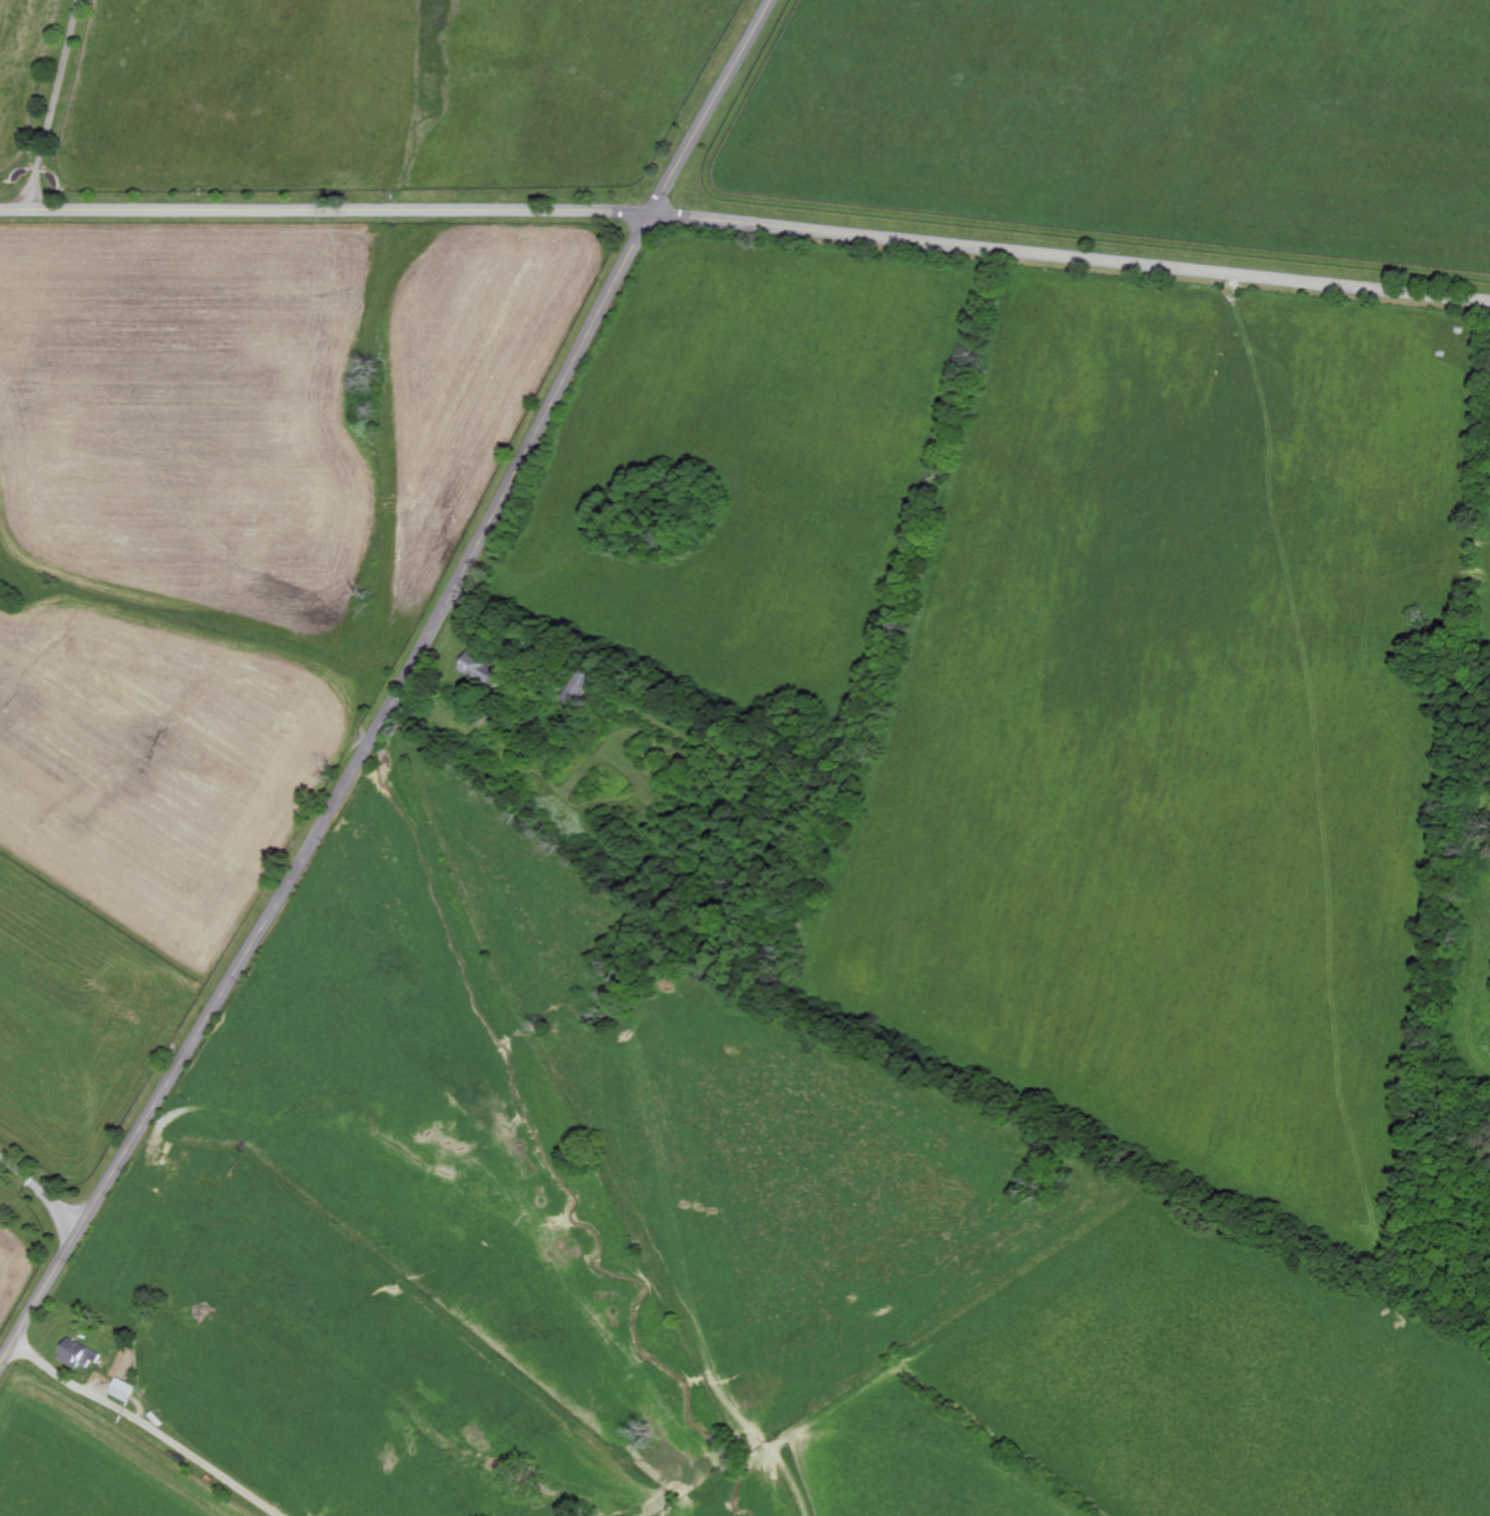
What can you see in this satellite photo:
road: (55, 104)
road: (712, 107)
road: (325, 211)
road: (1070, 256)
building: (482, 666)
building: (577, 688)
building: (574, 731)
road: (340, 800)
building: (184, 1164)
road: (41, 1198)
building: (80, 1351)
building: (124, 1387)
road: (152, 1427)

